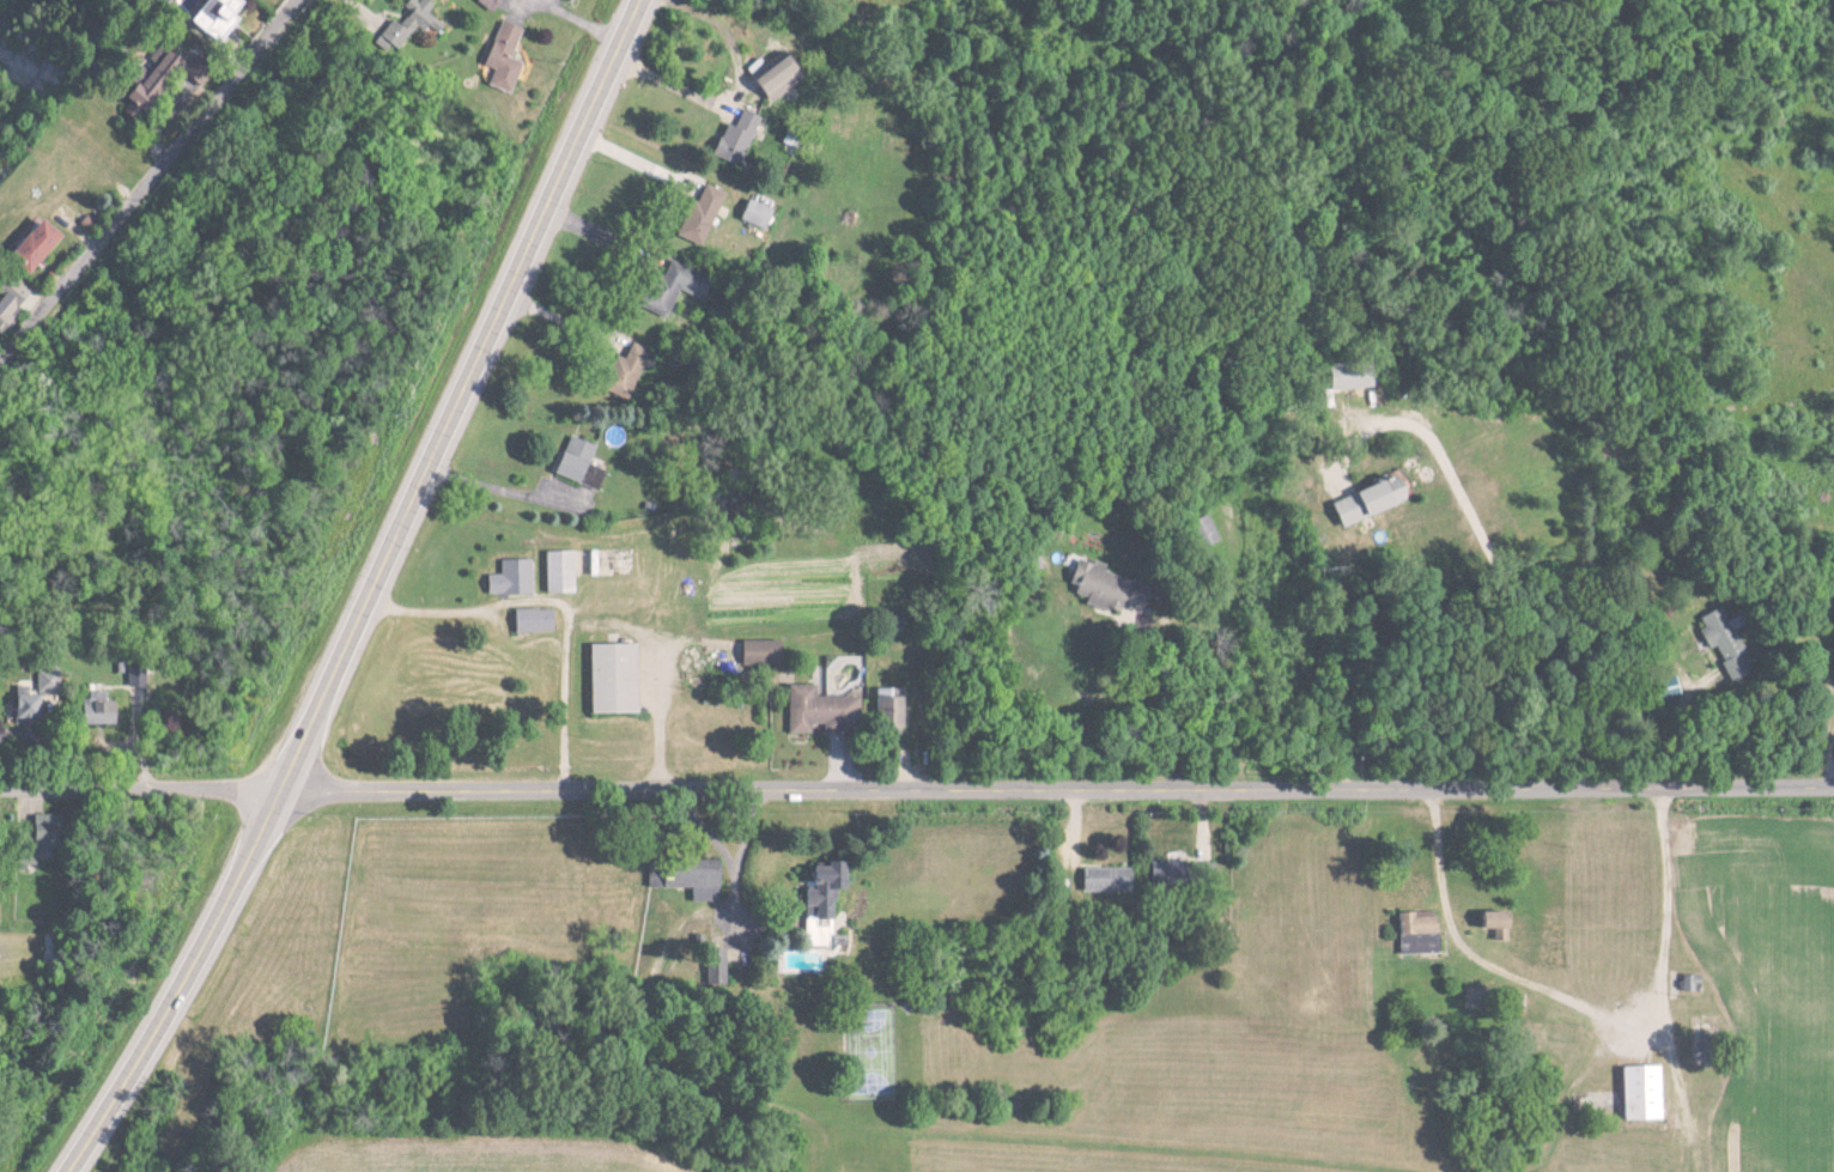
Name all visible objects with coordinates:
building: (491, 4)
building: (221, 17)
building: (412, 22)
building: (506, 57)
building: (781, 77)
road: (742, 92)
building: (737, 136)
road: (643, 159)
road: (147, 181)
building: (702, 214)
building: (757, 214)
building: (38, 243)
building: (7, 308)
building: (1350, 375)
building: (576, 460)
road: (498, 485)
building: (1359, 502)
building: (1202, 532)
road: (1496, 573)
building: (512, 577)
building: (1094, 587)
road: (369, 591)
road: (558, 595)
building: (1717, 634)
building: (759, 652)
building: (614, 678)
building: (1662, 688)
building: (102, 702)
building: (813, 710)
building: (881, 713)
road: (916, 789)
building: (1155, 874)
building: (1192, 874)
building: (688, 878)
building: (1097, 880)
building: (828, 887)
building: (1486, 924)
building: (819, 927)
building: (1409, 933)
building: (1686, 983)
road: (1574, 1001)
building: (1636, 1093)

